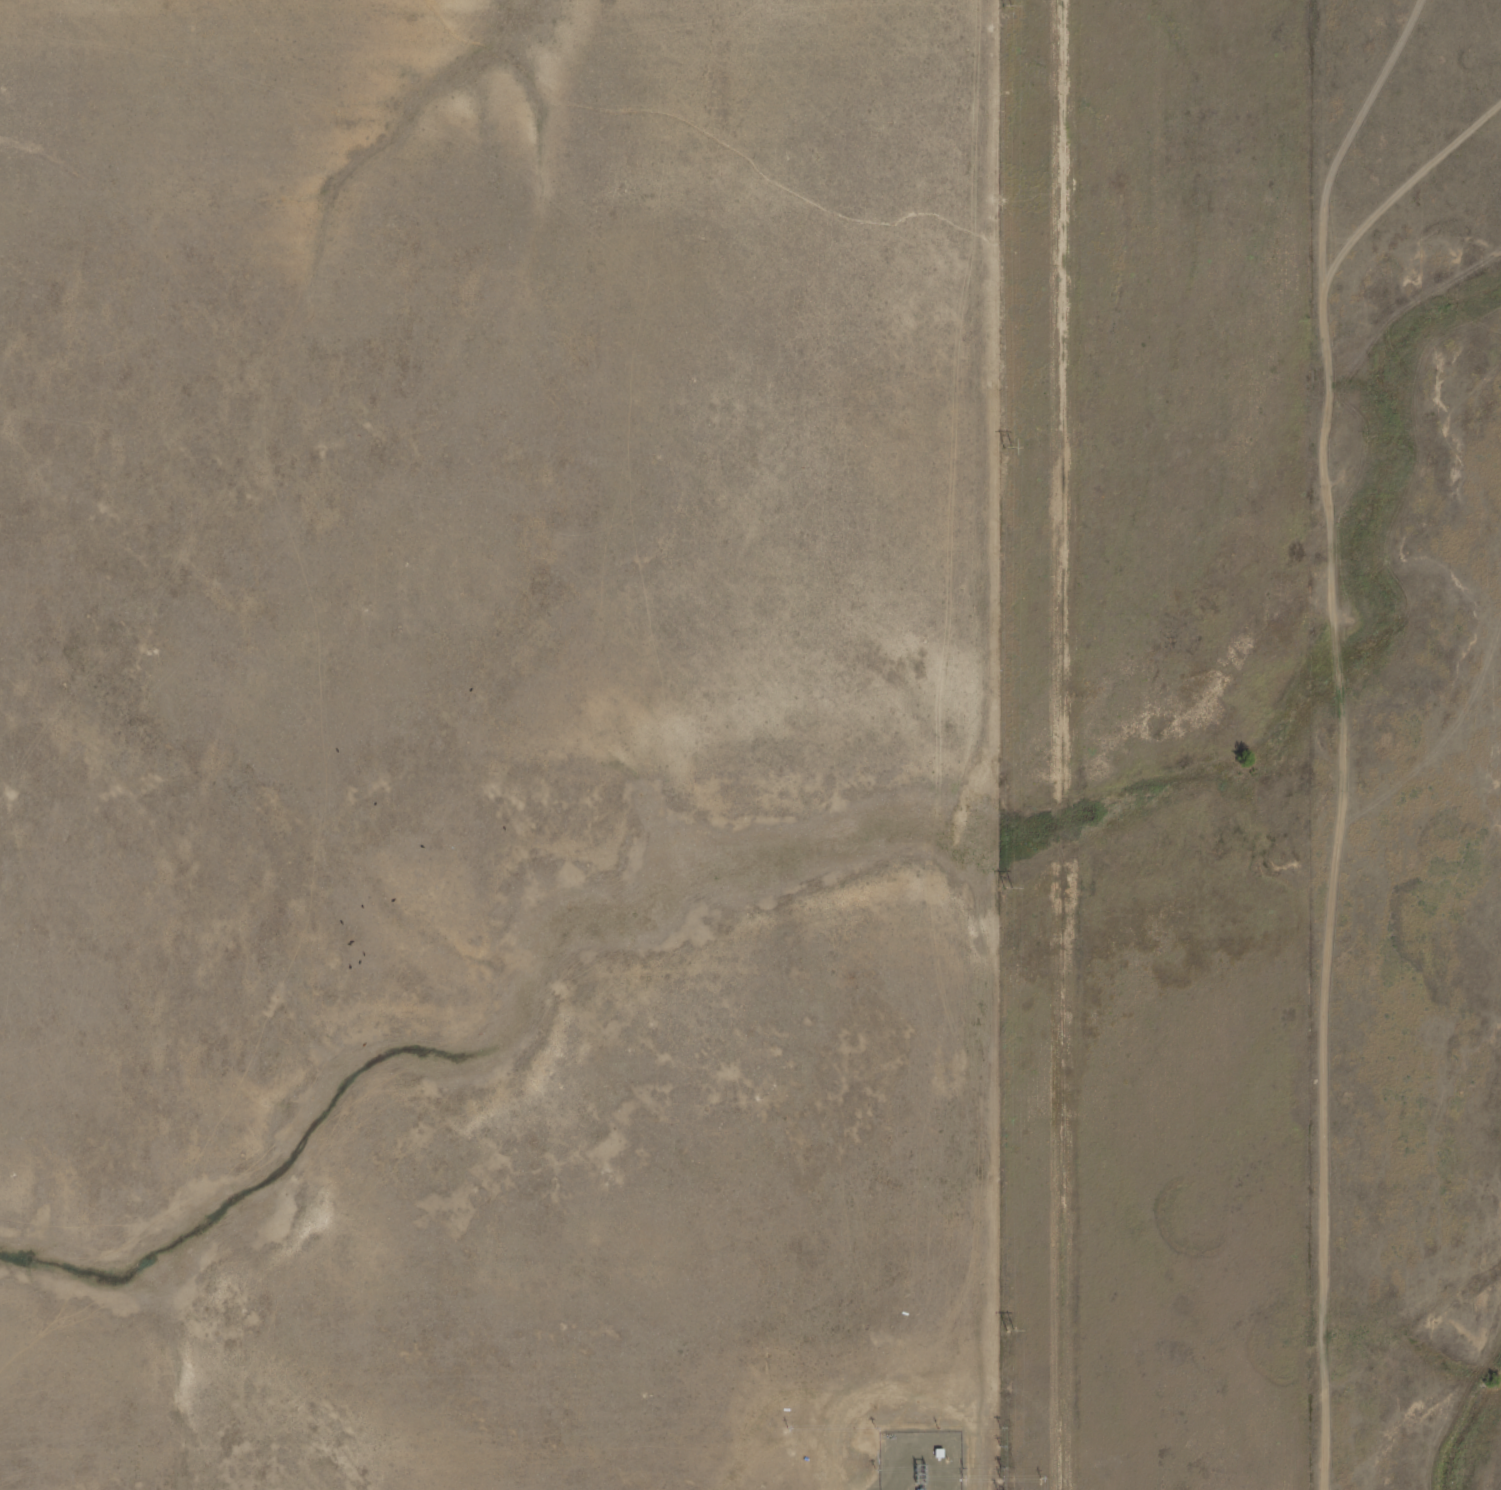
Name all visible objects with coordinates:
power substation: (918, 1460)

